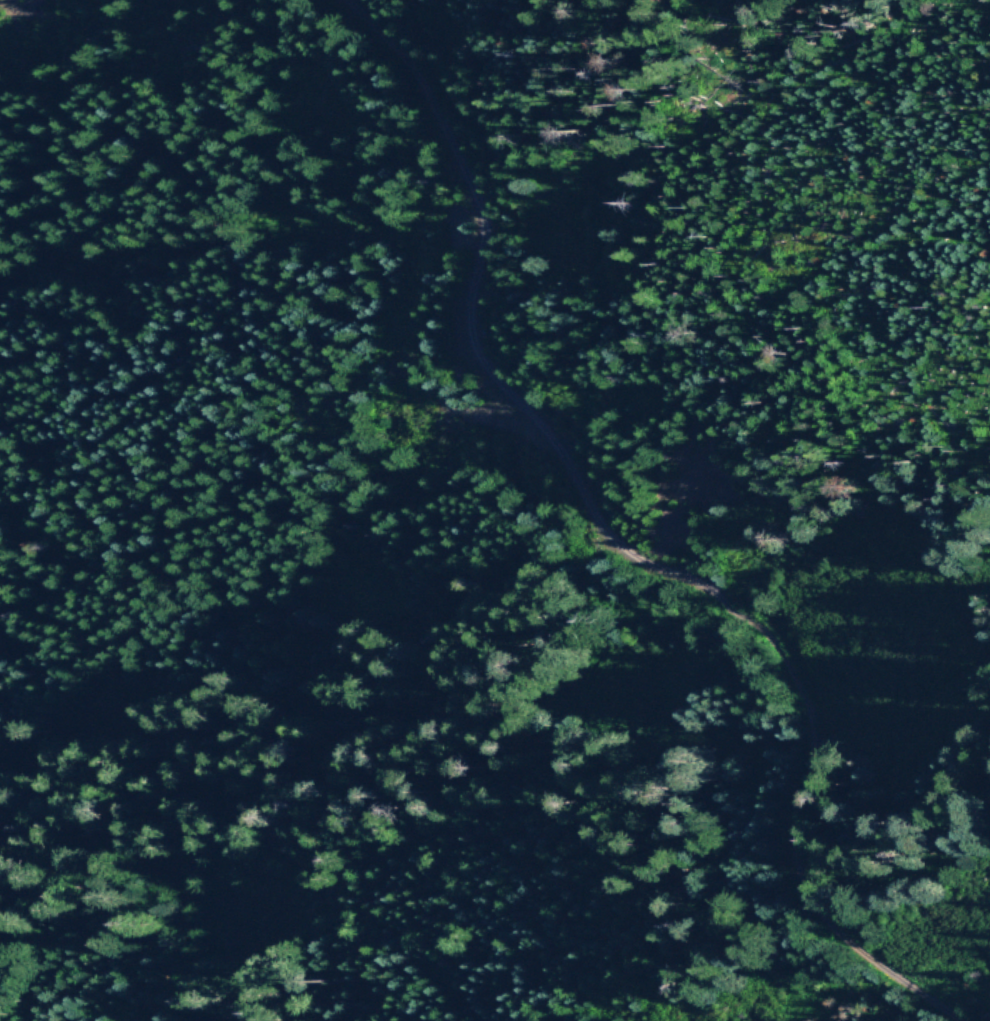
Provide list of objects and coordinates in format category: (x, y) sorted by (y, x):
road: (619, 548)

